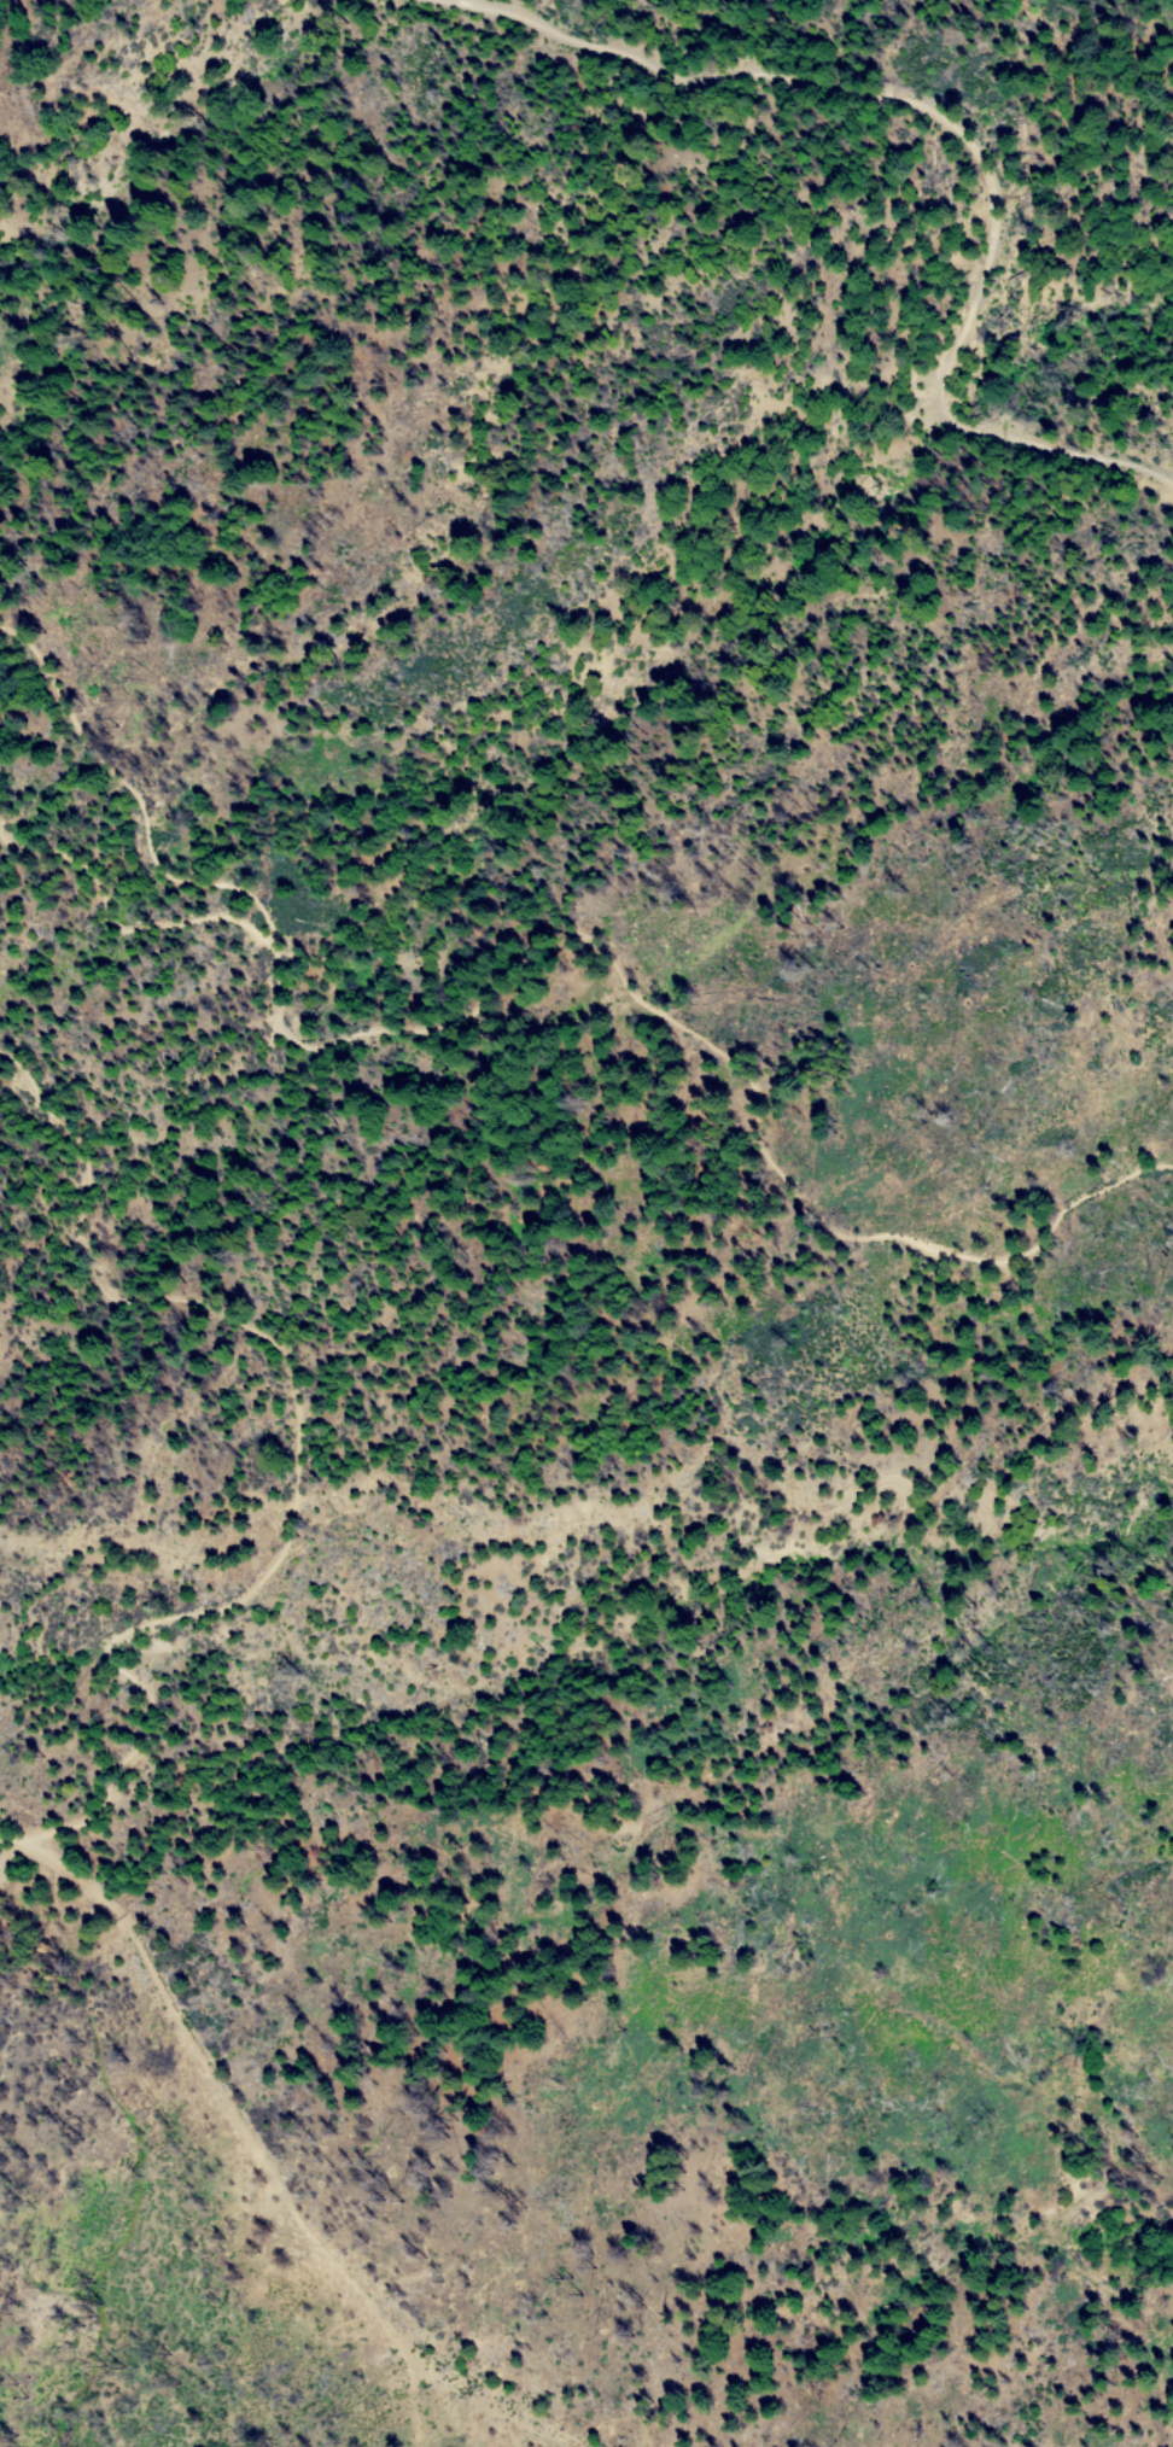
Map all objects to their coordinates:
road: (245, 2127)

